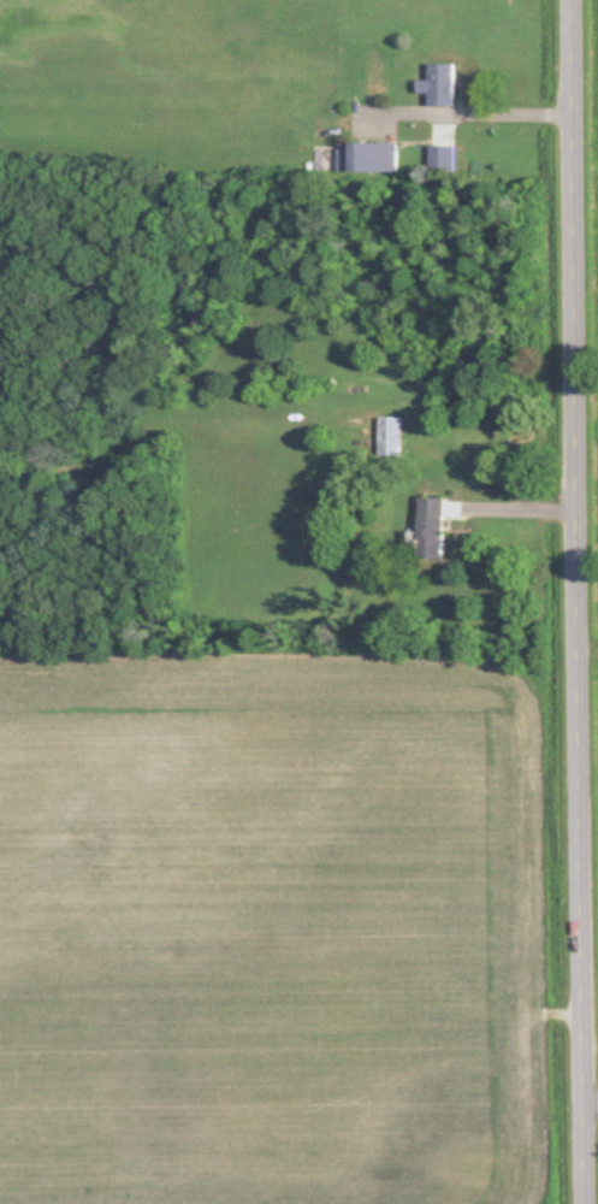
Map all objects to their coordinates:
building: (446, 84)
road: (480, 110)
building: (372, 158)
building: (448, 159)
building: (396, 436)
road: (517, 512)
building: (440, 529)
road: (581, 601)
road: (592, 1104)

